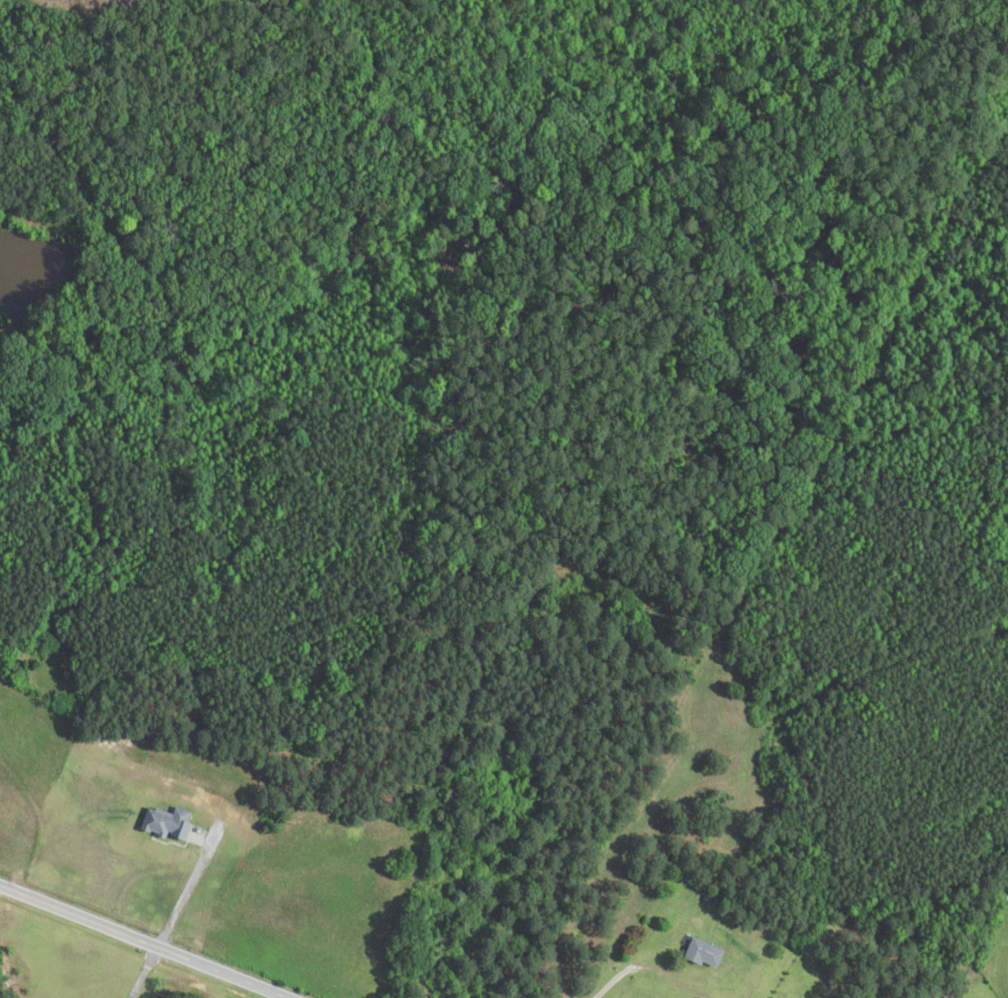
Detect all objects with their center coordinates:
building: (168, 823)
building: (1006, 899)
road: (160, 933)
building: (704, 953)

